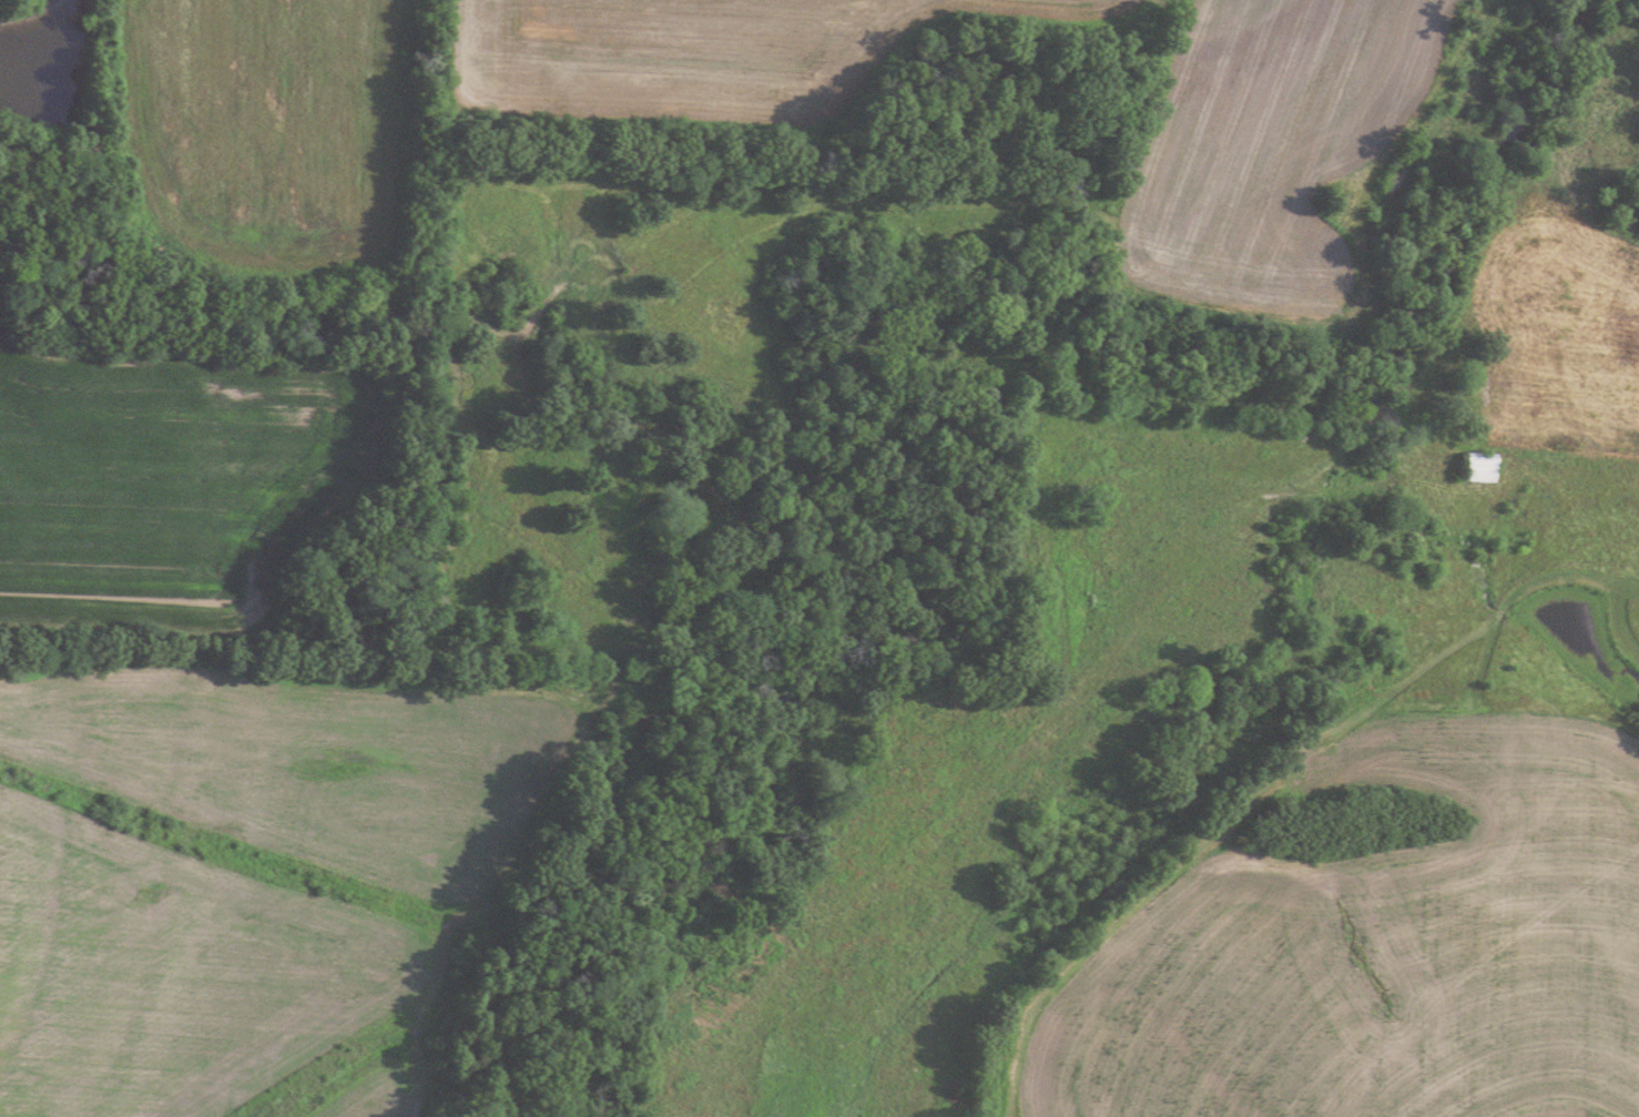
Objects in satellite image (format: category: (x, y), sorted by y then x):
building: (1486, 468)

